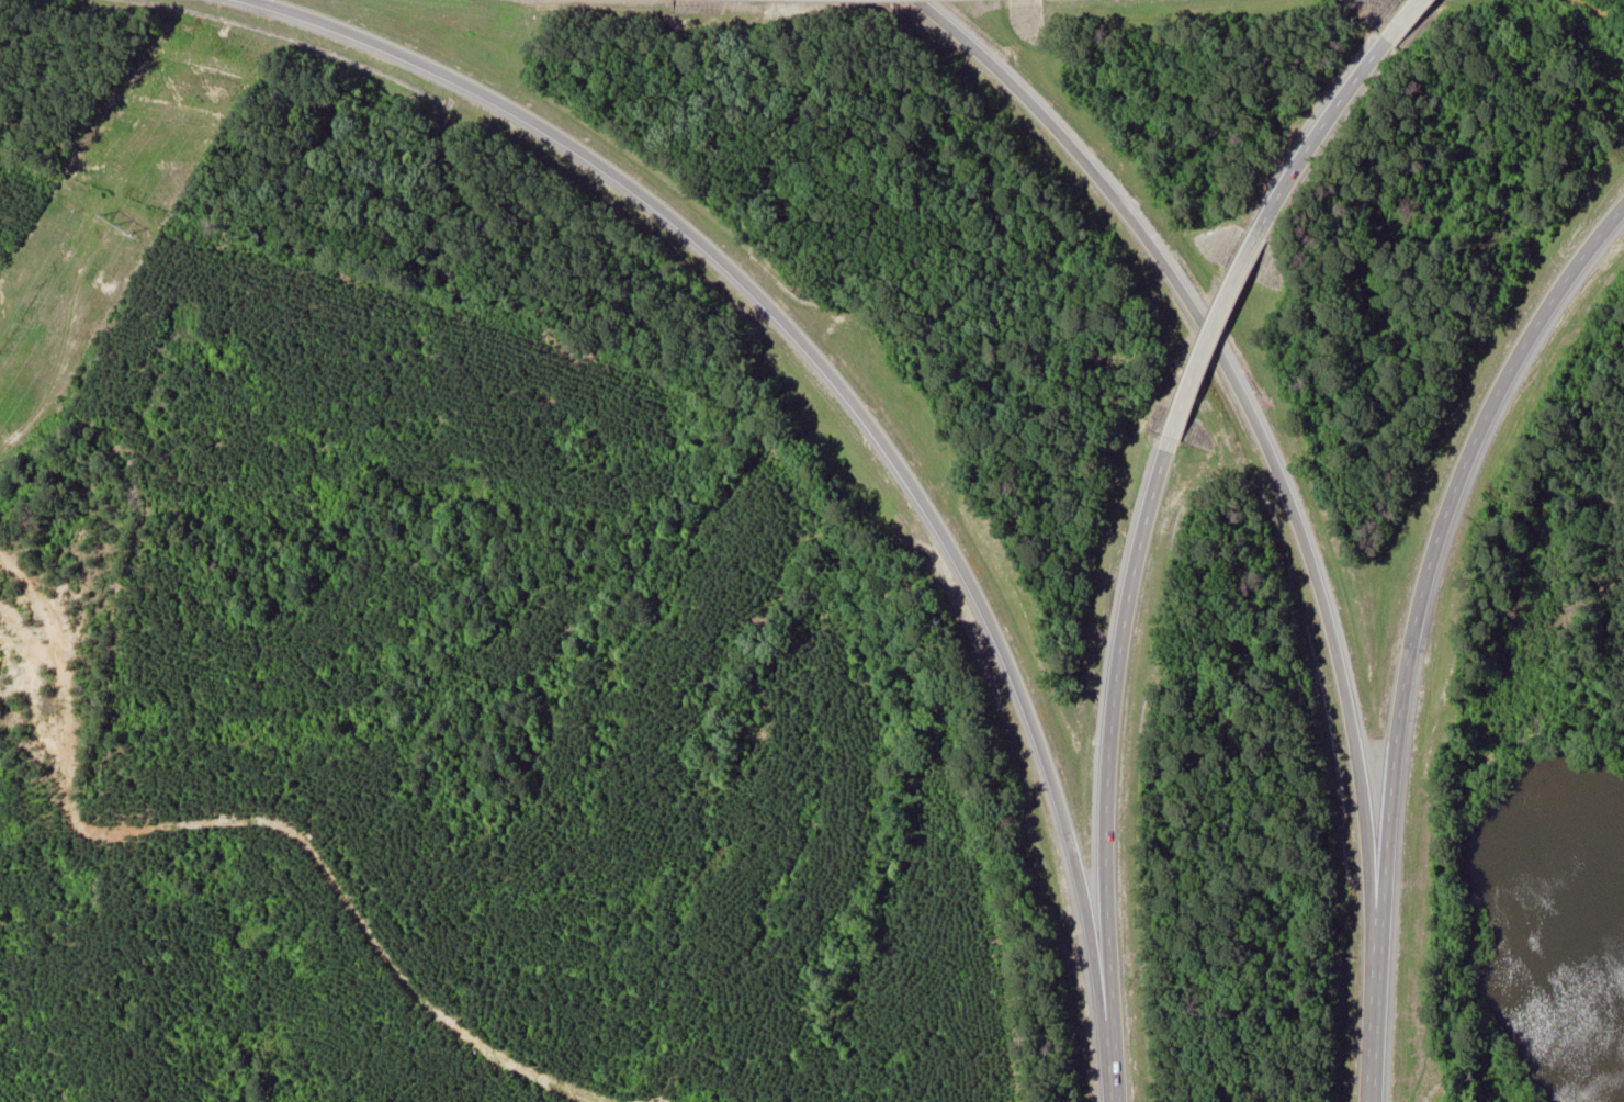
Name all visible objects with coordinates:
road: (1406, 20)
road: (1317, 134)
power tower: (120, 226)
road: (1209, 341)
road: (837, 390)
road: (1247, 406)
road: (1439, 538)
road: (1109, 751)
road: (1374, 1009)
road: (1113, 1079)

